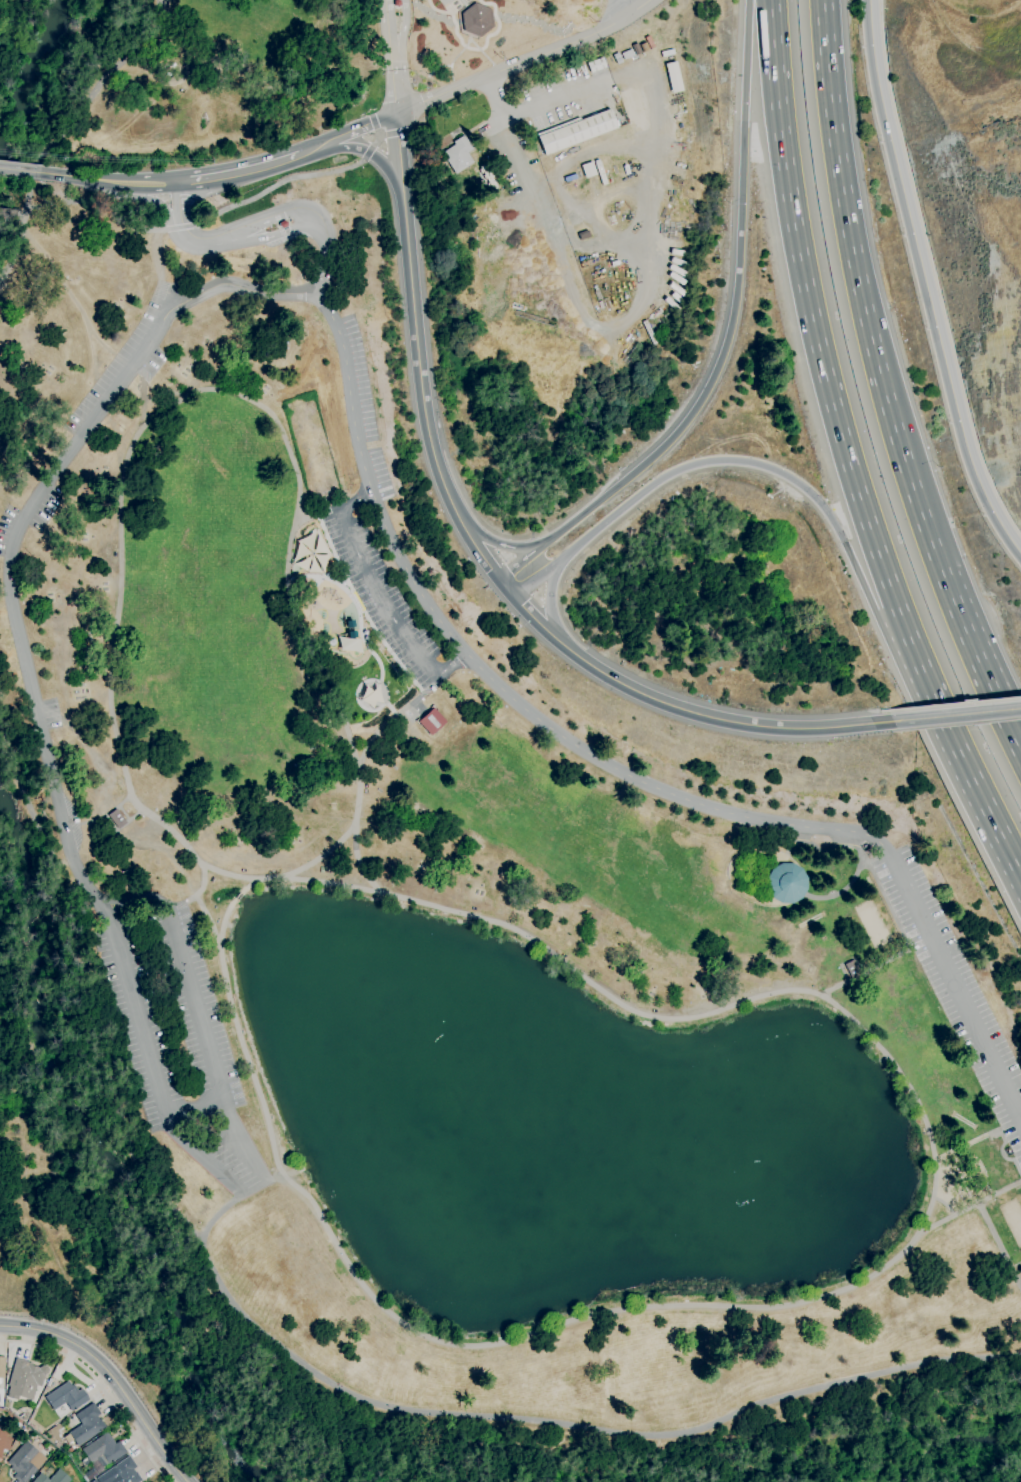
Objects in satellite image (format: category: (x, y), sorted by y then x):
building: (397, 3)
road: (622, 9)
building: (477, 20)
road: (402, 54)
building: (627, 54)
road: (391, 57)
road: (532, 57)
building: (596, 65)
river: (35, 73)
building: (672, 76)
road: (102, 79)
road: (557, 95)
road: (402, 111)
road: (365, 125)
building: (575, 131)
road: (378, 140)
road: (318, 145)
building: (536, 148)
building: (458, 154)
road: (375, 157)
road: (19, 170)
road: (238, 171)
road: (107, 181)
road: (29, 193)
road: (156, 202)
road: (8, 213)
road: (20, 214)
building: (283, 224)
road: (197, 225)
road: (16, 247)
road: (156, 256)
road: (935, 271)
road: (926, 281)
road: (861, 292)
road: (163, 297)
road: (73, 300)
road: (734, 308)
road: (814, 325)
road: (609, 327)
building: (649, 332)
road: (418, 355)
parking lot: (126, 363)
road: (235, 393)
parking lot: (368, 410)
road: (734, 465)
road: (314, 517)
road: (19, 521)
road: (503, 545)
road: (522, 561)
road: (507, 589)
road: (381, 596)
parking lot: (382, 597)
road: (551, 603)
road: (538, 623)
road: (972, 649)
road: (507, 691)
building: (369, 693)
road: (953, 704)
road: (882, 711)
road: (955, 714)
road: (875, 717)
road: (718, 718)
road: (391, 719)
building: (430, 721)
road: (1013, 726)
road: (1013, 738)
road: (963, 757)
park: (442, 806)
road: (99, 819)
building: (117, 819)
road: (357, 867)
road: (204, 881)
building: (786, 883)
road: (239, 896)
road: (182, 905)
road: (879, 967)
building: (852, 969)
parking lot: (961, 993)
parking lot: (182, 1051)
road: (197, 1106)
river: (102, 1154)
road: (251, 1176)
road: (234, 1203)
road: (978, 1204)
road: (1000, 1241)
road: (881, 1284)
building: (2, 1366)
road: (312, 1369)
road: (112, 1377)
building: (25, 1379)
road: (100, 1387)
building: (67, 1397)
building: (18, 1426)
building: (85, 1426)
building: (5, 1440)
building: (69, 1450)
building: (103, 1450)
building: (25, 1462)
river: (965, 1463)
building: (121, 1473)
building: (53, 1477)

